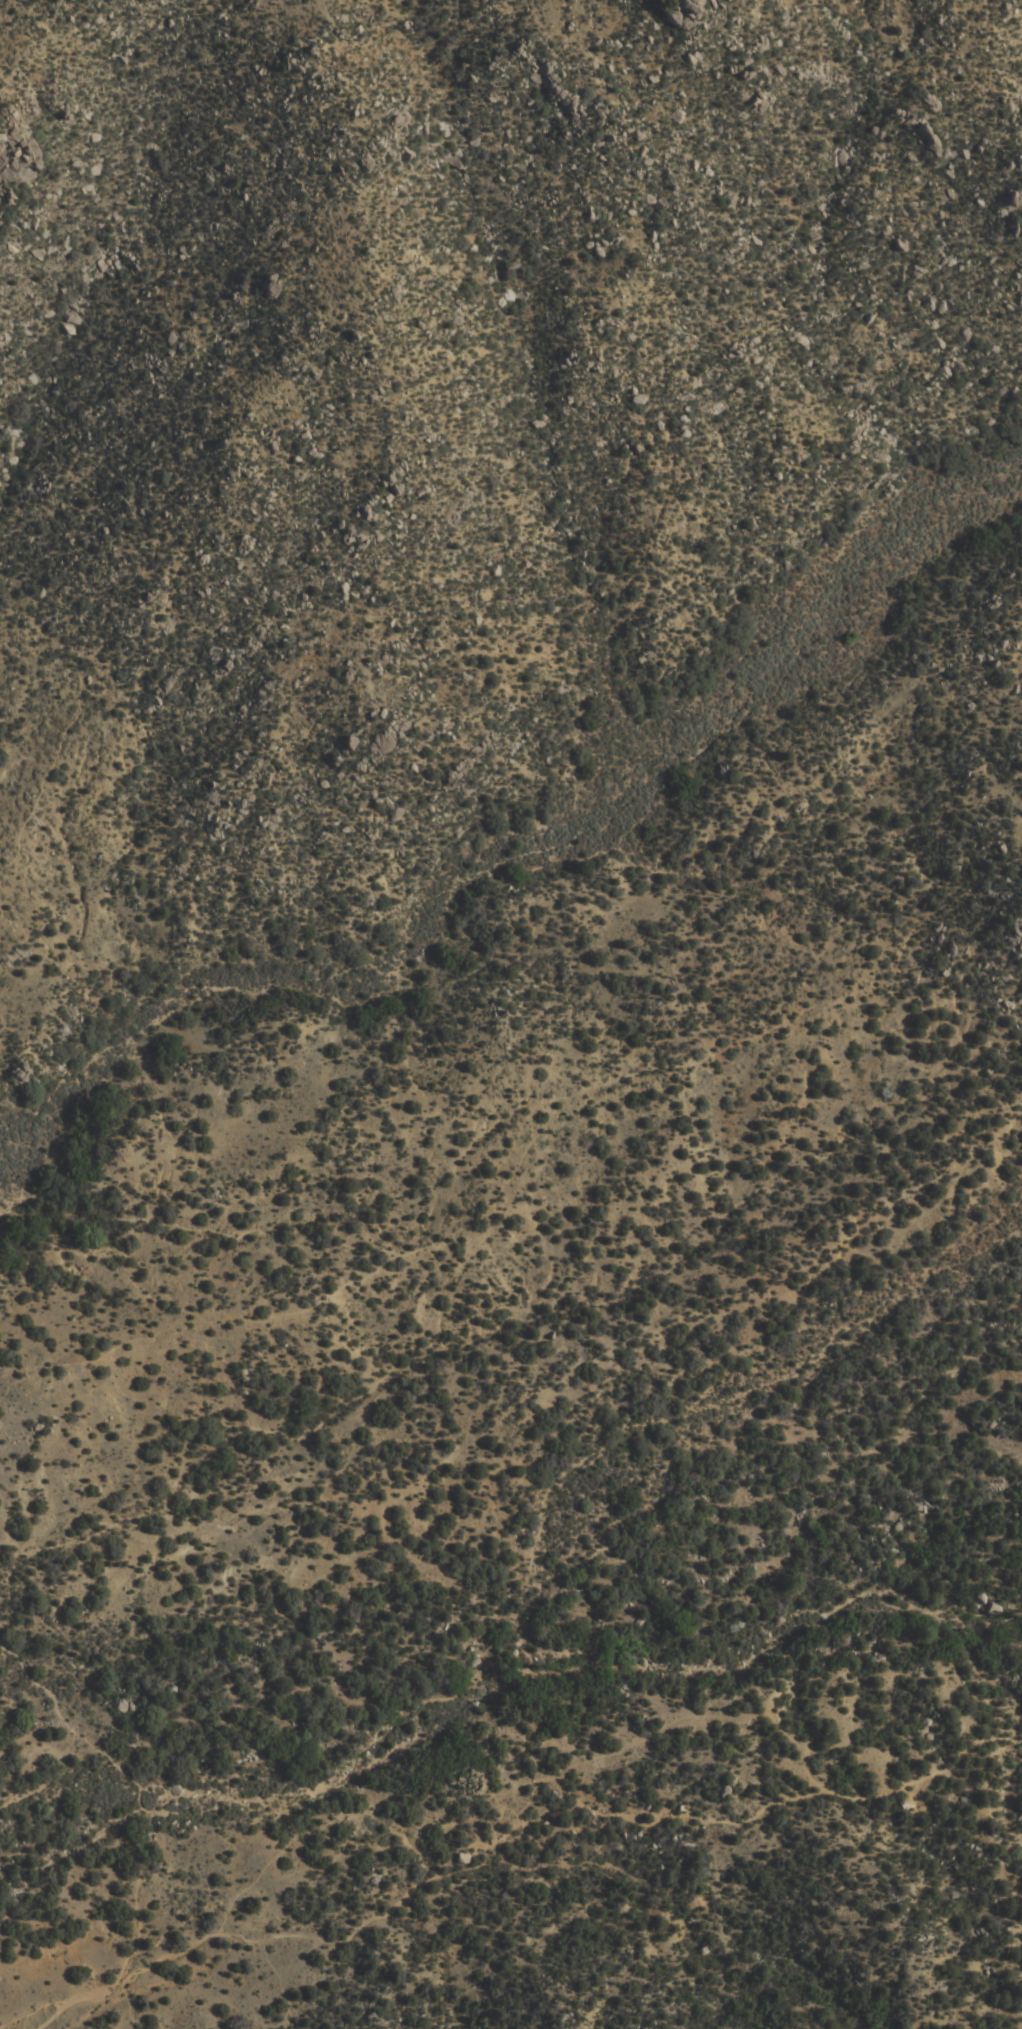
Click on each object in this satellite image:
park: (133, 1301)
road: (145, 1823)
road: (495, 1837)

